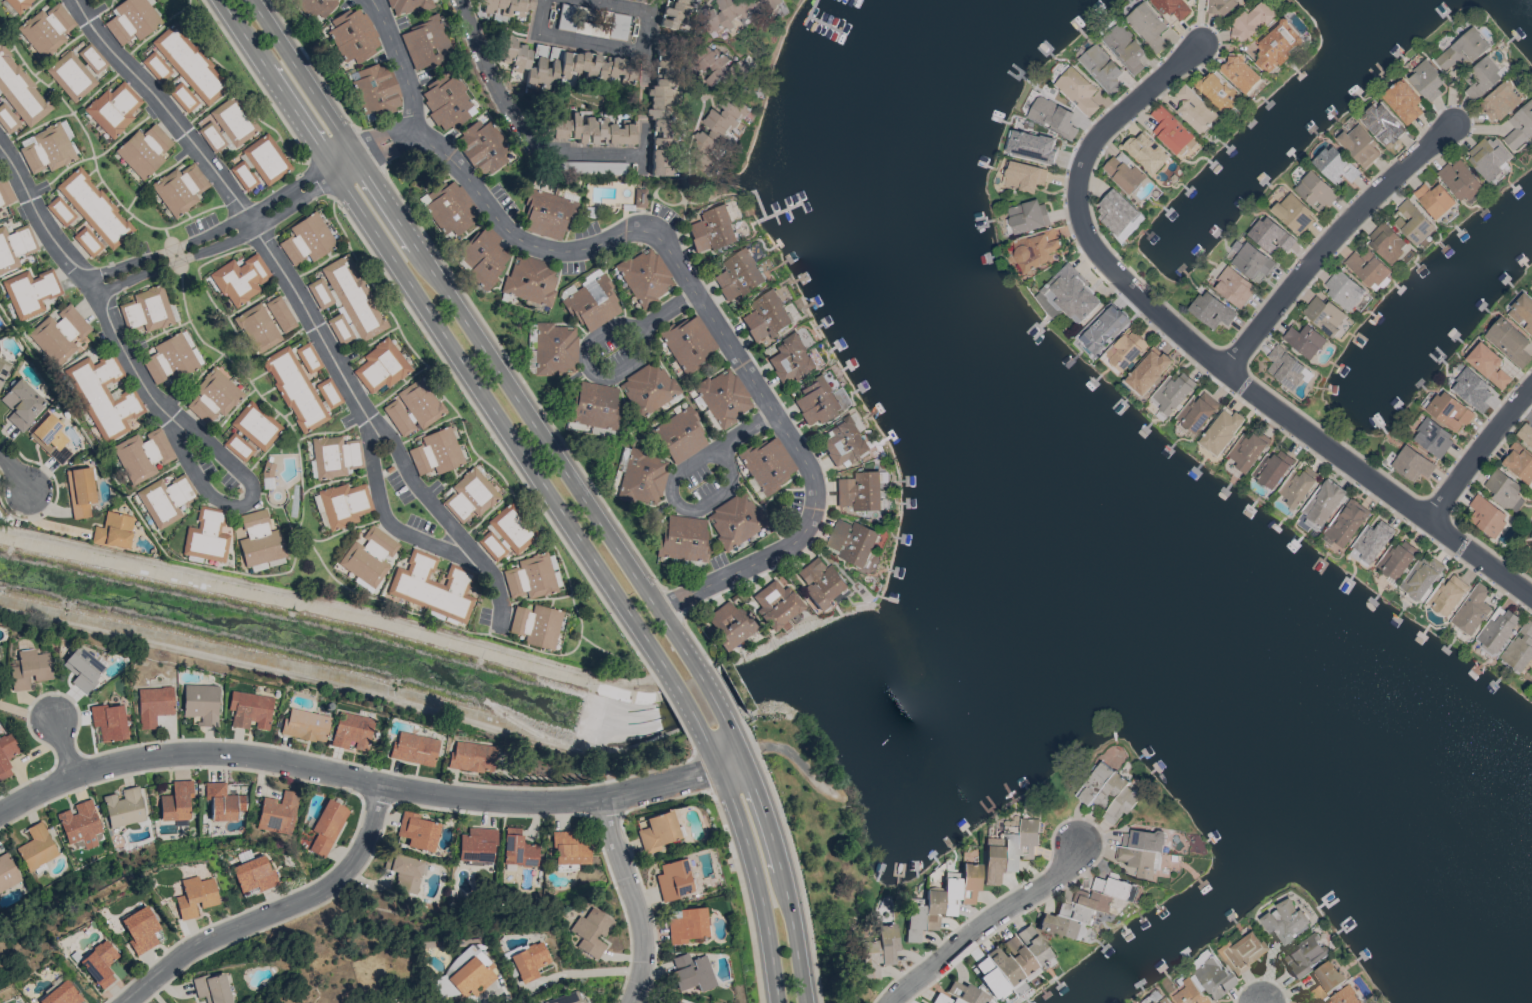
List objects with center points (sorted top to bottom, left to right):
building: (90, 0)
building: (18, 4)
building: (1221, 5)
building: (313, 6)
road: (373, 6)
building: (406, 6)
road: (623, 6)
building: (506, 8)
building: (1172, 8)
building: (746, 10)
road: (102, 11)
building: (674, 12)
road: (20, 18)
building: (132, 20)
building: (1253, 21)
road: (650, 25)
building: (1147, 26)
building: (47, 28)
road: (157, 30)
building: (353, 35)
road: (573, 41)
building: (425, 43)
building: (1277, 45)
road: (61, 49)
building: (1126, 50)
building: (1463, 50)
building: (89, 56)
building: (189, 64)
road: (311, 64)
building: (559, 65)
building: (155, 66)
road: (403, 68)
building: (1101, 68)
building: (9, 70)
building: (721, 70)
building: (1240, 74)
building: (70, 76)
building: (1484, 77)
road: (256, 81)
building: (1426, 81)
building: (375, 88)
road: (239, 91)
building: (1077, 91)
building: (1218, 91)
building: (182, 98)
building: (447, 101)
building: (1402, 101)
building: (1501, 101)
building: (22, 104)
building: (662, 106)
road: (209, 107)
building: (113, 108)
road: (1127, 110)
building: (1194, 110)
road: (68, 114)
building: (1050, 116)
building: (1382, 124)
building: (225, 125)
building: (1518, 128)
building: (1170, 130)
building: (589, 131)
building: (717, 132)
road: (525, 139)
building: (1359, 146)
building: (482, 147)
building: (1033, 147)
road: (371, 149)
road: (1, 150)
building: (48, 150)
building: (143, 150)
building: (1146, 152)
road: (98, 155)
building: (1487, 158)
building: (257, 164)
road: (96, 165)
building: (1335, 166)
building: (1124, 172)
road: (157, 174)
building: (1024, 177)
road: (318, 178)
building: (1459, 180)
building: (179, 188)
building: (1315, 191)
building: (5, 192)
building: (76, 197)
building: (639, 198)
building: (1434, 200)
building: (449, 208)
building: (1293, 214)
building: (545, 215)
building: (1118, 215)
building: (1028, 217)
building: (1412, 223)
building: (103, 228)
building: (712, 230)
road: (228, 233)
building: (1270, 236)
road: (1335, 238)
building: (306, 240)
building: (1386, 242)
building: (14, 246)
building: (1035, 250)
building: (482, 256)
building: (1250, 261)
building: (1368, 269)
building: (738, 275)
building: (644, 276)
road: (84, 277)
building: (240, 278)
building: (531, 279)
building: (338, 283)
building: (1232, 286)
building: (1343, 289)
building: (29, 292)
building: (1531, 294)
building: (1067, 296)
road: (697, 298)
building: (591, 303)
road: (304, 307)
road: (670, 308)
building: (147, 311)
building: (1211, 311)
building: (1522, 313)
building: (280, 314)
building: (1324, 315)
building: (765, 317)
building: (358, 318)
building: (257, 328)
building: (1102, 328)
building: (59, 333)
road: (157, 334)
building: (1304, 340)
building: (688, 342)
building: (1508, 342)
building: (554, 348)
building: (1124, 351)
building: (171, 358)
building: (789, 360)
road: (585, 362)
building: (1488, 365)
building: (381, 366)
building: (291, 367)
building: (1284, 367)
building: (3, 368)
building: (1148, 371)
road: (500, 375)
road: (474, 379)
road: (522, 380)
road: (194, 381)
building: (647, 388)
building: (1471, 388)
building: (1172, 393)
building: (106, 395)
building: (212, 396)
building: (723, 397)
building: (817, 401)
building: (312, 402)
building: (21, 404)
building: (592, 405)
building: (412, 408)
building: (1197, 412)
building: (1448, 412)
road: (1285, 413)
road: (230, 414)
building: (255, 426)
road: (747, 428)
building: (1221, 432)
building: (1525, 434)
building: (679, 436)
building: (50, 438)
building: (1433, 439)
building: (846, 442)
building: (237, 447)
building: (1248, 450)
building: (435, 452)
road: (1481, 453)
building: (142, 455)
building: (336, 456)
building: (767, 463)
building: (1518, 463)
building: (1412, 464)
building: (1272, 469)
road: (516, 470)
road: (15, 472)
building: (639, 477)
building: (1297, 487)
building: (1502, 488)
building: (860, 491)
building: (80, 492)
building: (469, 496)
building: (165, 499)
road: (380, 502)
building: (1323, 502)
road: (244, 504)
building: (344, 504)
road: (685, 506)
building: (1486, 516)
building: (735, 519)
building: (1346, 523)
road: (341, 530)
building: (113, 531)
building: (505, 533)
building: (206, 535)
building: (682, 537)
building: (257, 538)
building: (852, 542)
building: (1370, 543)
road: (552, 544)
building: (368, 556)
building: (1396, 560)
building: (266, 564)
road: (272, 573)
building: (530, 576)
building: (1421, 578)
building: (414, 579)
building: (821, 582)
building: (452, 595)
building: (1447, 596)
road: (672, 603)
building: (775, 604)
building: (1471, 610)
building: (536, 625)
building: (729, 625)
building: (1497, 629)
building: (1520, 647)
road: (609, 652)
building: (82, 668)
building: (29, 669)
road: (284, 673)
building: (154, 702)
building: (200, 704)
building: (248, 709)
building: (109, 722)
building: (304, 725)
building: (350, 731)
road: (65, 746)
building: (413, 748)
road: (788, 751)
building: (6, 753)
building: (470, 756)
road: (730, 760)
road: (701, 773)
road: (355, 777)
building: (1108, 793)
building: (176, 801)
road: (776, 801)
building: (223, 802)
building: (124, 807)
building: (277, 812)
building: (81, 824)
building: (326, 826)
building: (416, 831)
building: (658, 831)
building: (308, 839)
building: (476, 844)
building: (37, 847)
building: (517, 849)
building: (569, 849)
building: (1009, 850)
building: (1141, 852)
building: (404, 871)
building: (7, 872)
building: (253, 874)
road: (782, 876)
building: (673, 880)
road: (756, 882)
road: (745, 894)
building: (195, 896)
road: (633, 899)
building: (940, 902)
building: (1082, 908)
road: (275, 910)
building: (1284, 921)
road: (984, 922)
building: (687, 925)
building: (140, 930)
building: (591, 932)
building: (877, 949)
building: (1025, 949)
building: (1241, 952)
building: (1304, 955)
building: (528, 961)
building: (99, 963)
road: (583, 971)
building: (996, 971)
building: (691, 972)
building: (470, 977)
building: (1211, 978)
building: (1324, 980)
building: (443, 984)
building: (212, 988)
road: (497, 993)
building: (1187, 993)
building: (60, 994)
building: (959, 994)
building: (1343, 996)
building: (1158, 997)
building: (566, 998)
building: (676, 1002)
building: (920, 1002)

